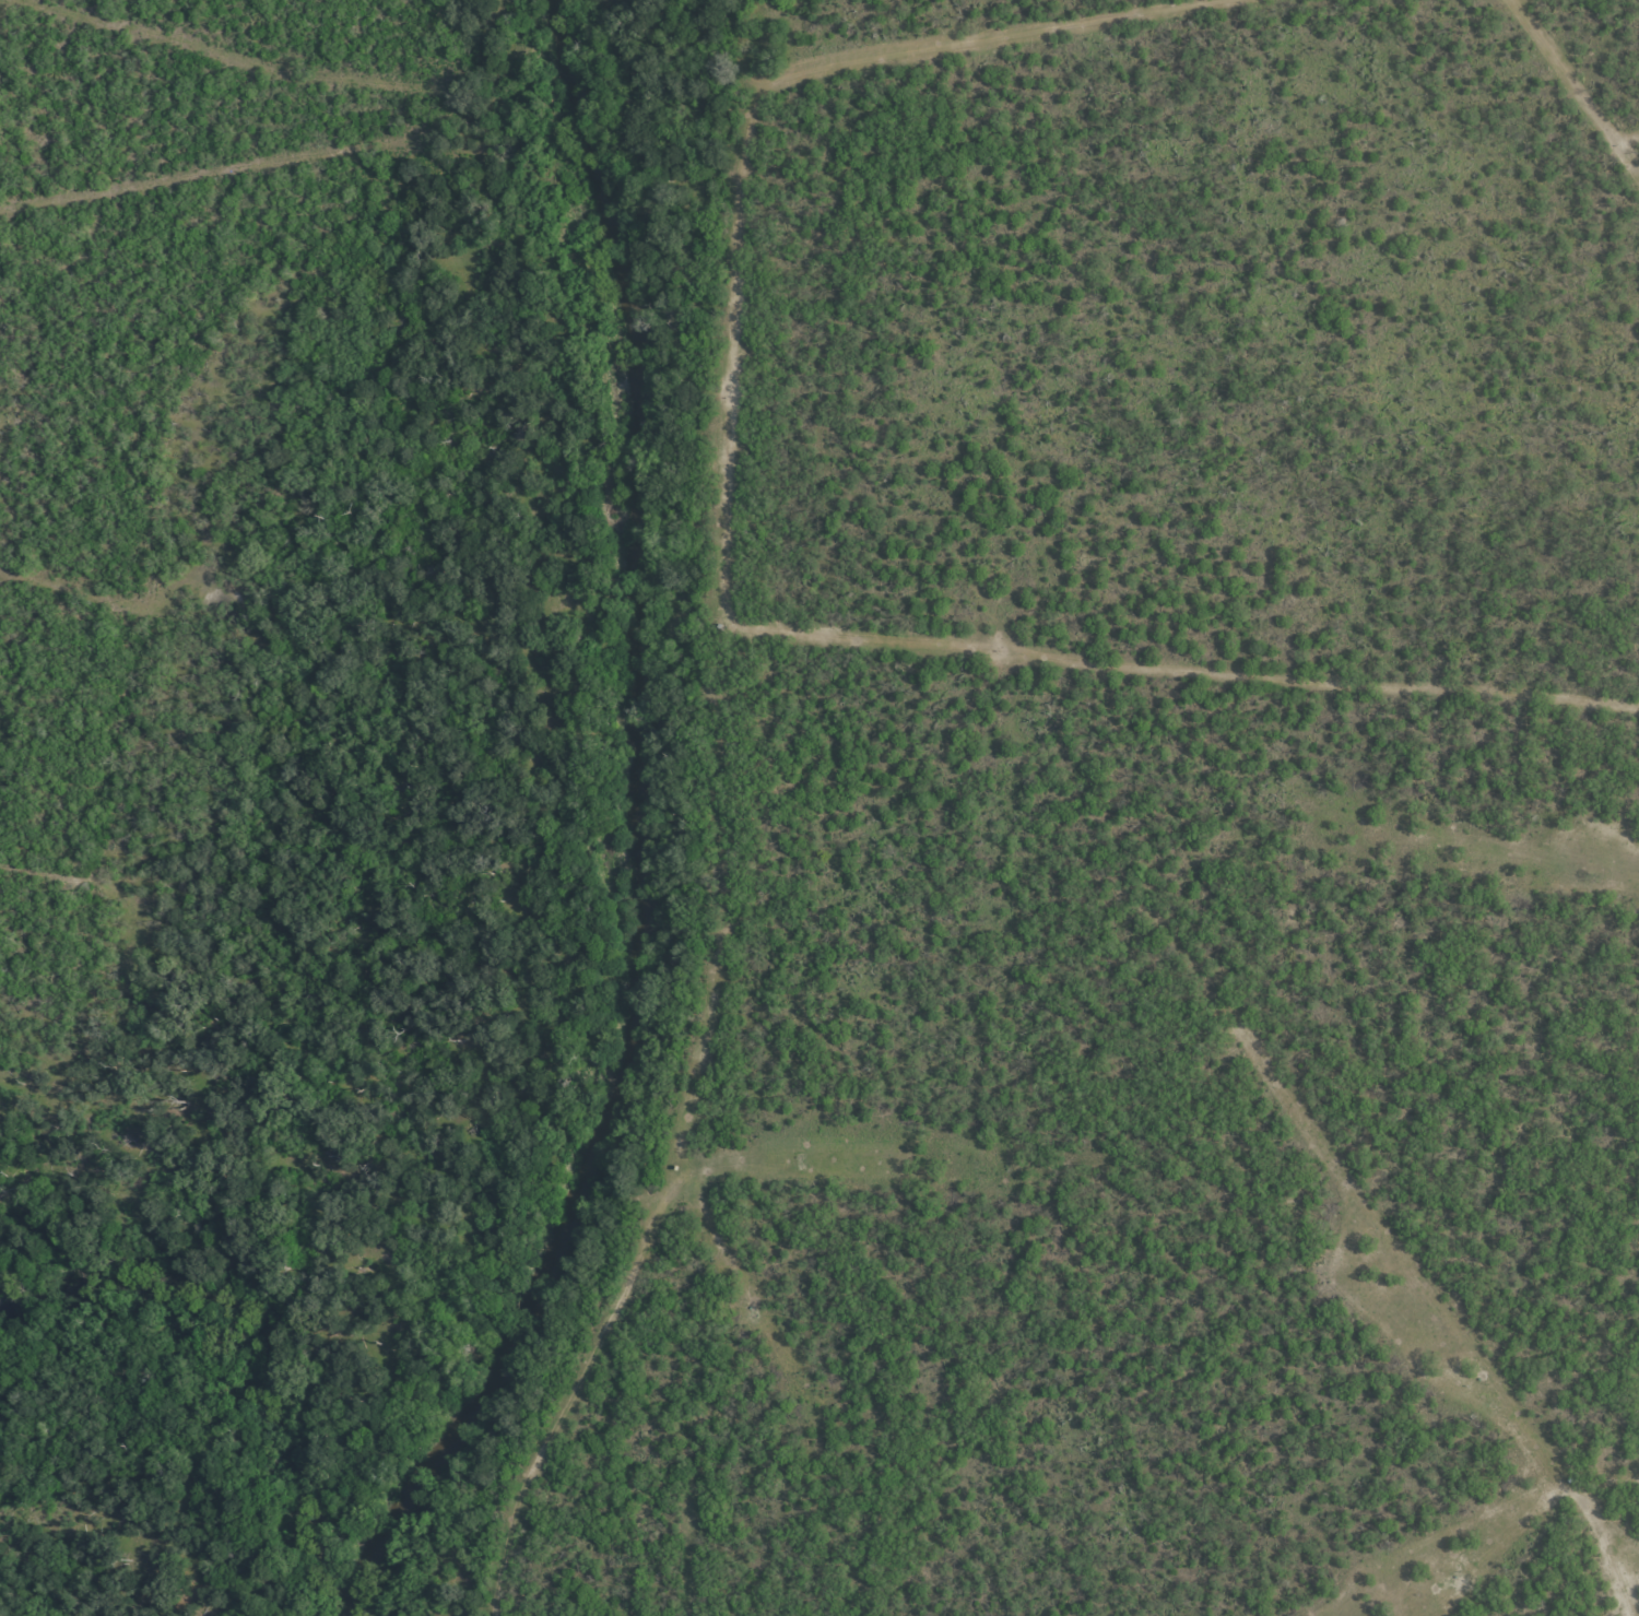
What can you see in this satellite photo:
river: (629, 836)
river: (261, 1337)

